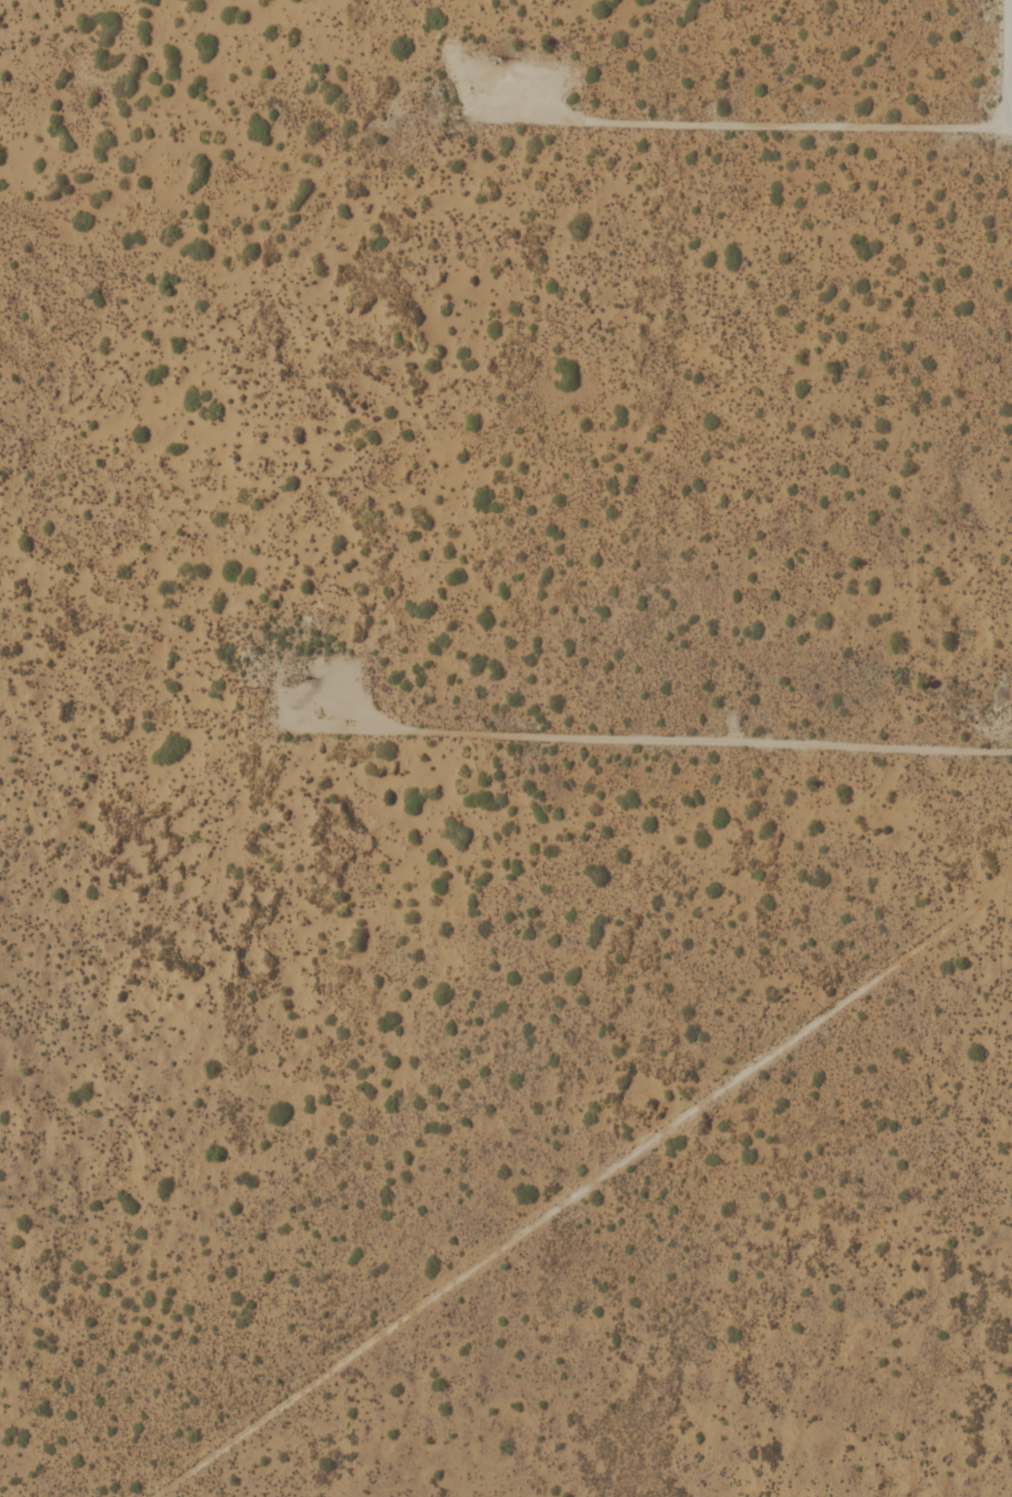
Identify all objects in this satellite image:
road: (757, 127)
road: (693, 743)

